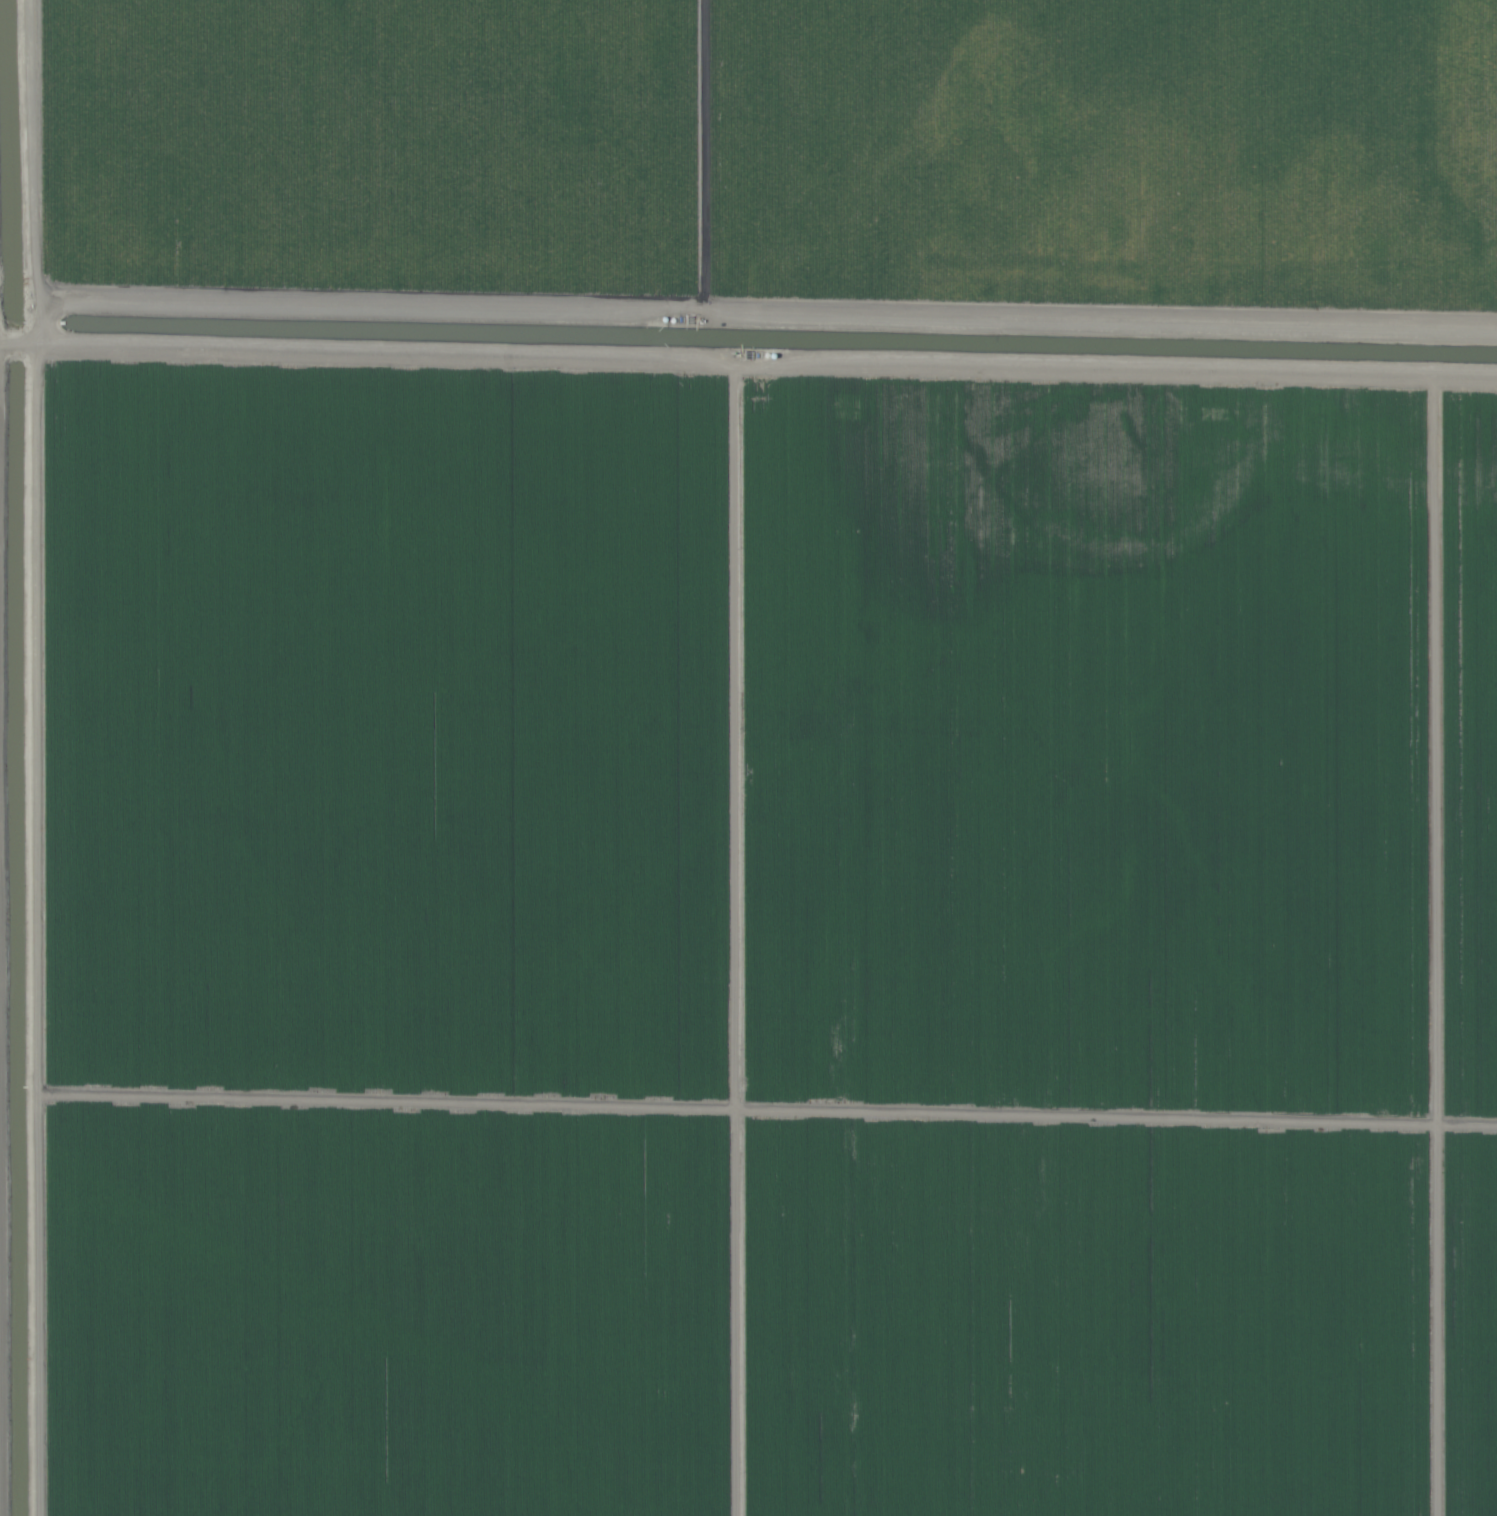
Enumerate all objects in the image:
road: (748, 394)
crop: (748, 758)

